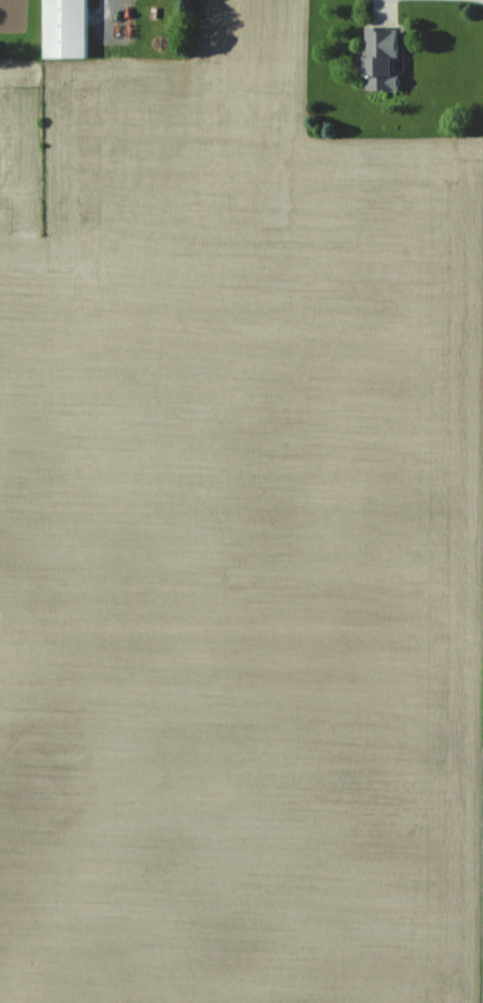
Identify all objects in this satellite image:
building: (66, 28)
building: (382, 57)

